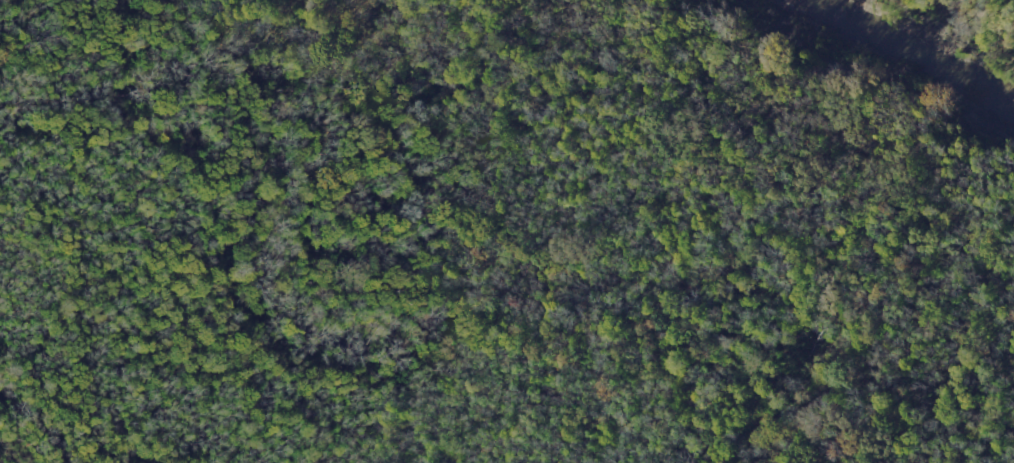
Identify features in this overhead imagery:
river: (909, 52)

